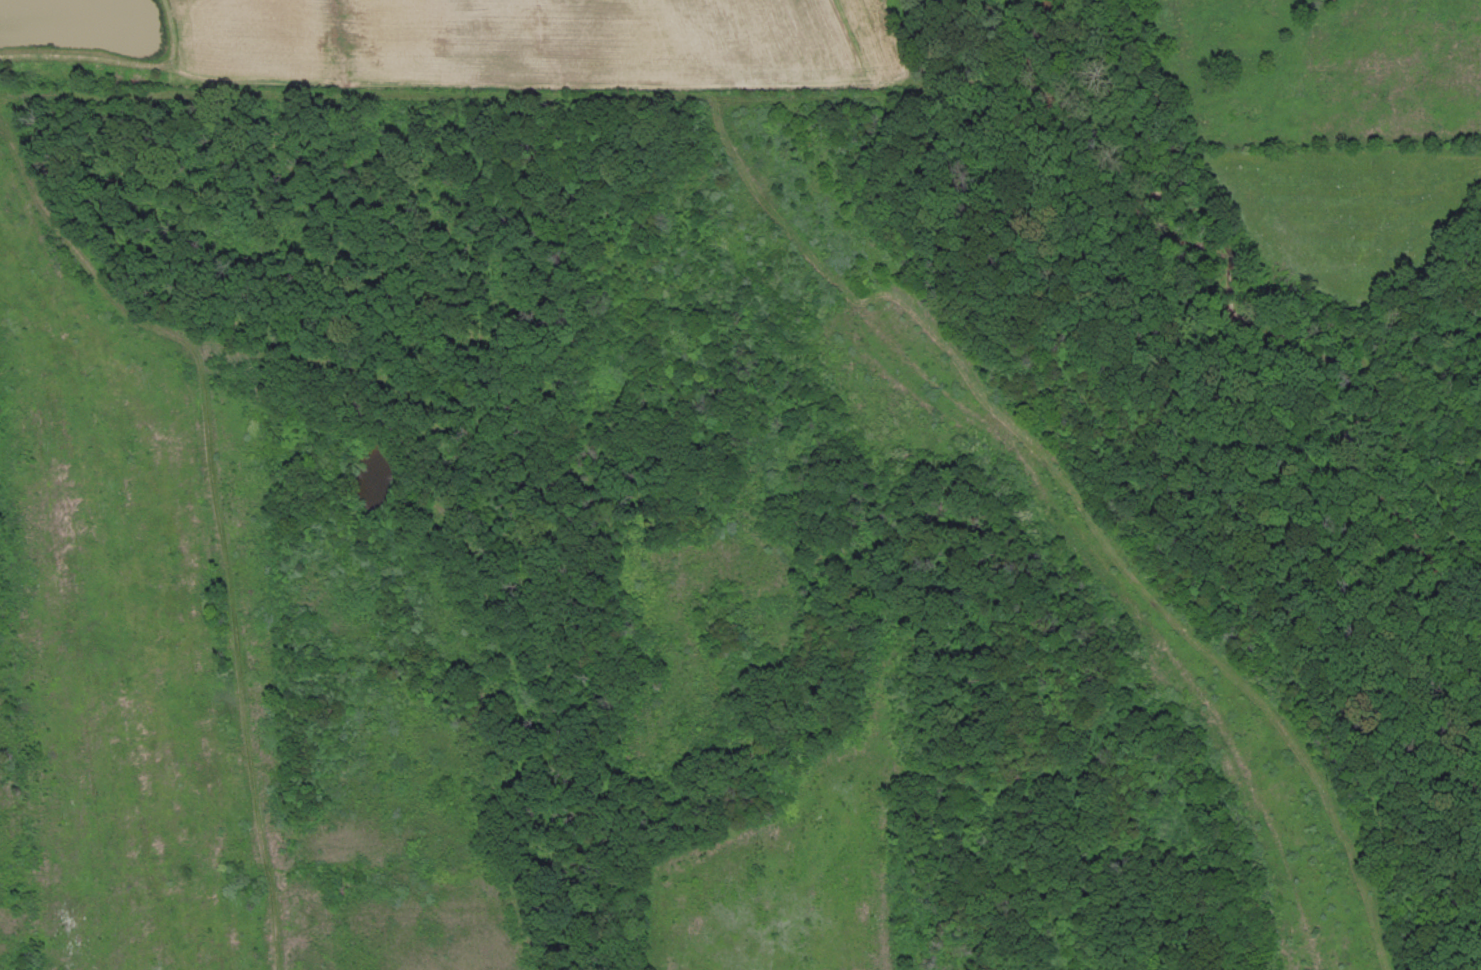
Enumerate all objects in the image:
park: (703, 552)

